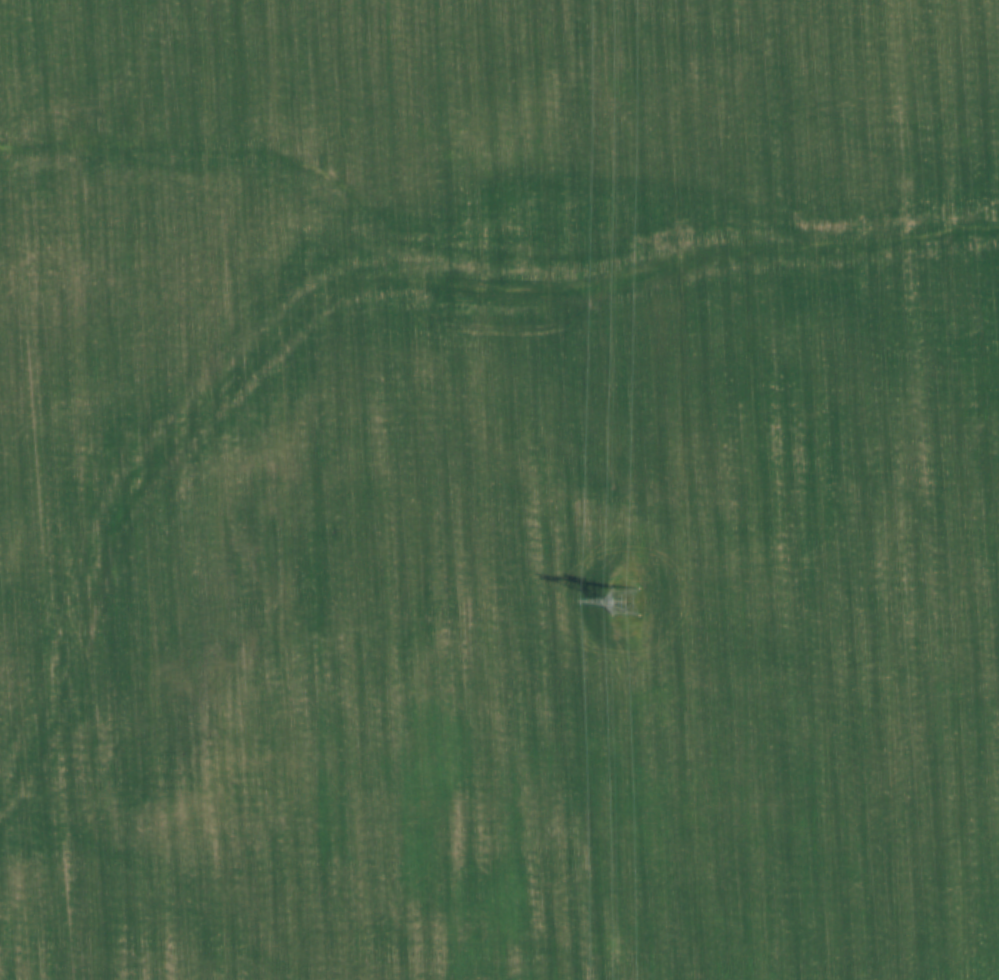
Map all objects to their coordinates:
power tower: (623, 600)

